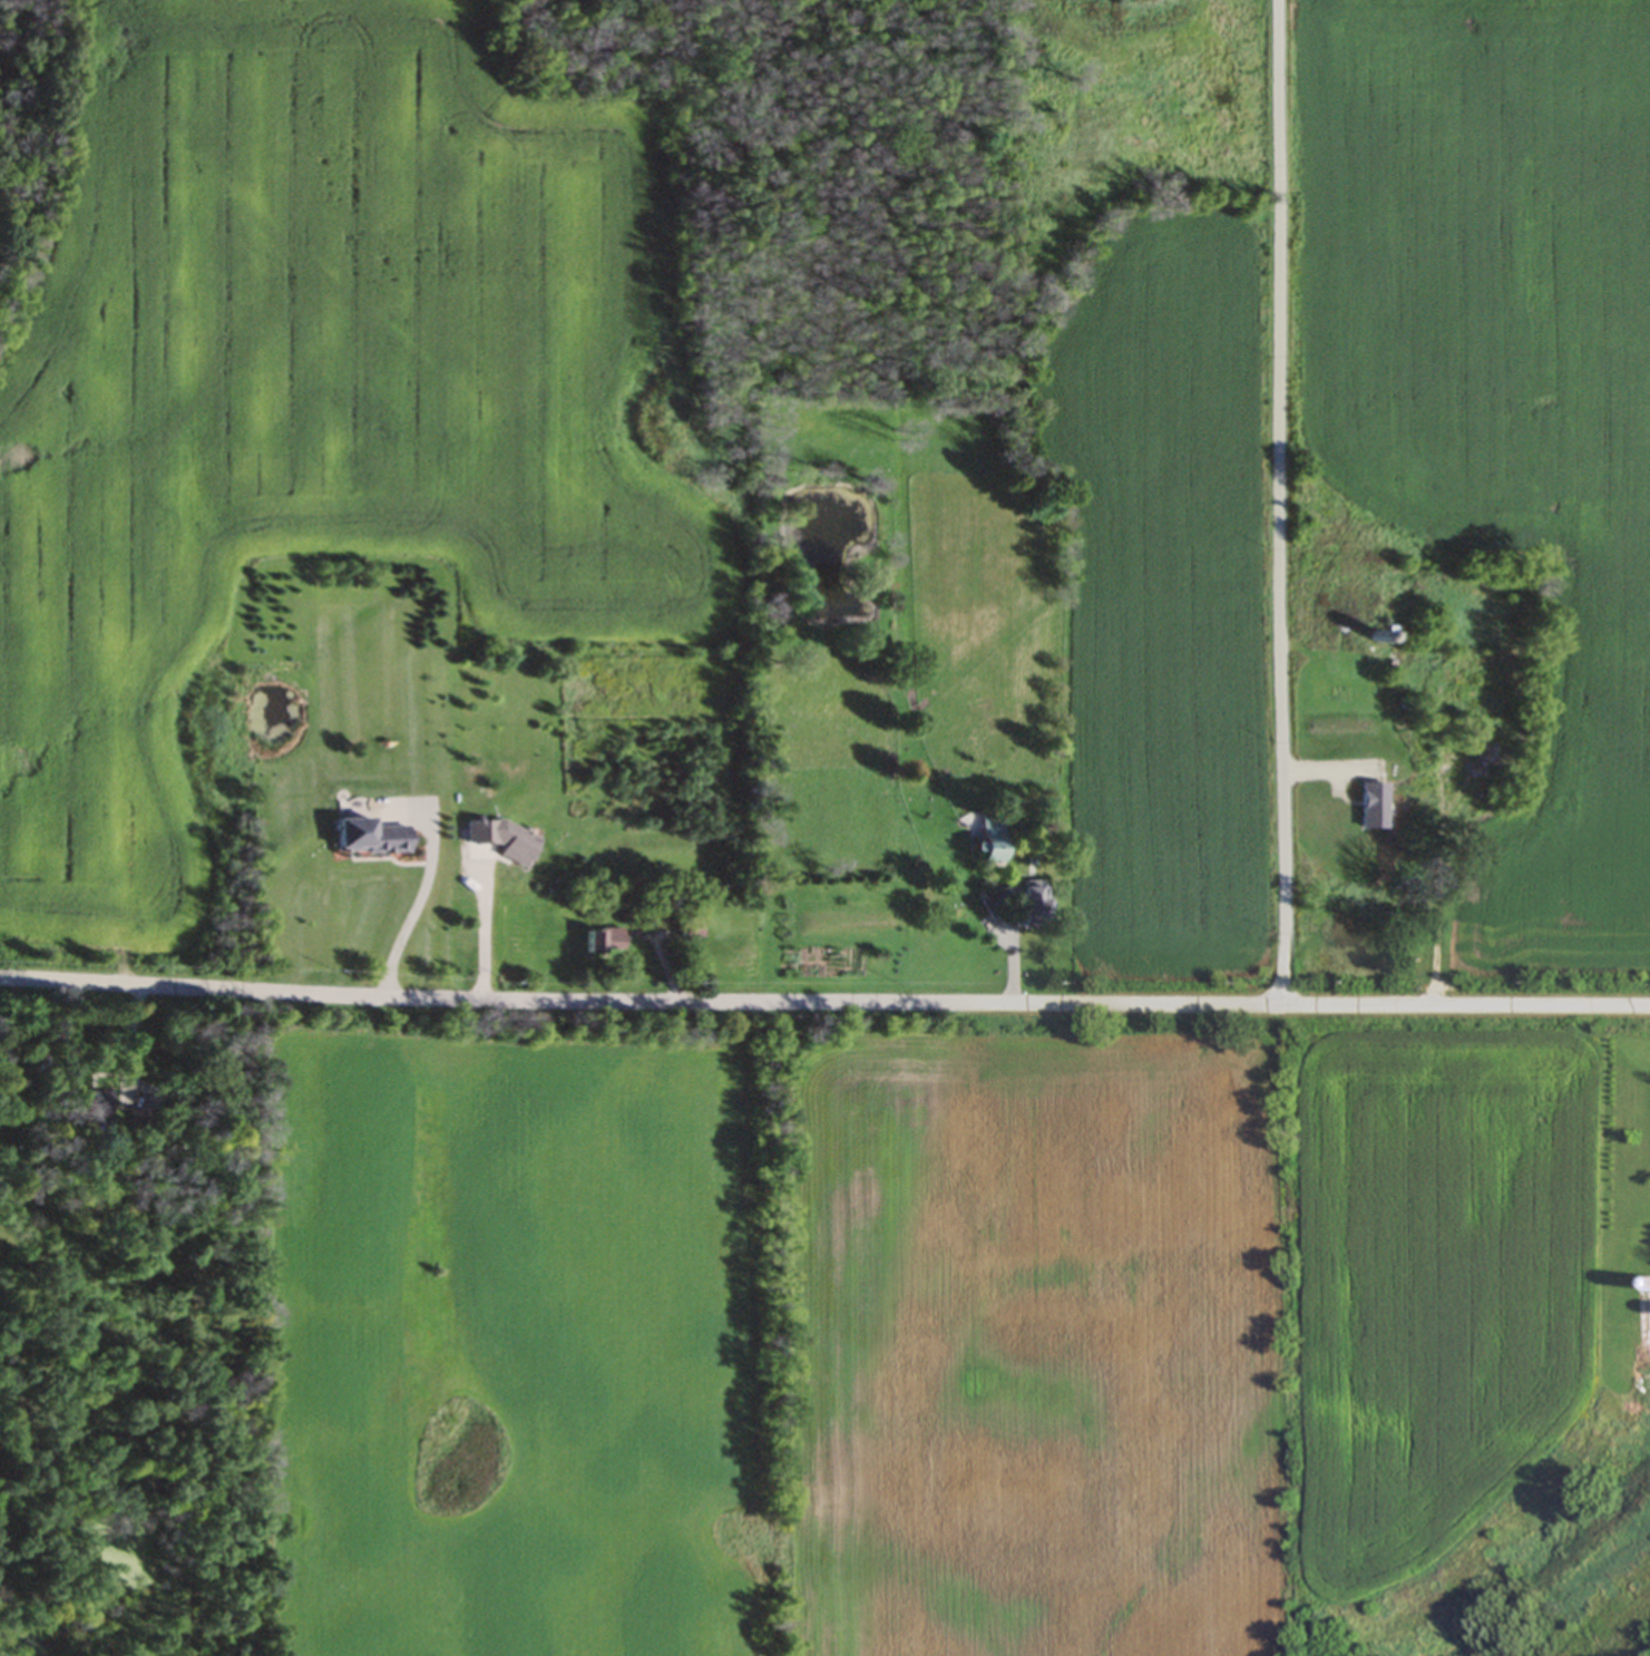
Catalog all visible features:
road: (1283, 504)
building: (1416, 826)
building: (370, 838)
building: (992, 840)
building: (504, 841)
building: (1018, 903)
road: (413, 908)
building: (693, 929)
road: (494, 939)
building: (606, 943)
road: (824, 1003)
building: (90, 1107)

